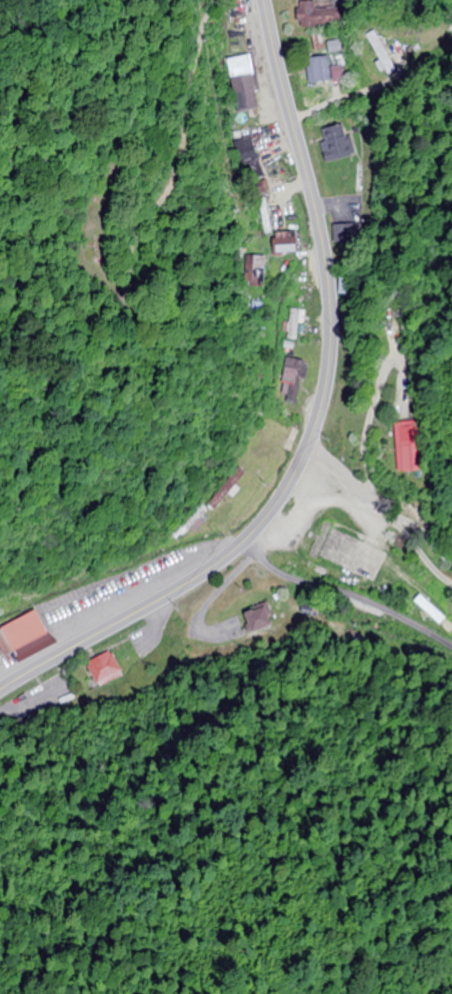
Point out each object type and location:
building: (313, 15)
building: (379, 54)
building: (318, 70)
building: (243, 90)
building: (334, 143)
building: (283, 244)
building: (348, 283)
building: (393, 322)
building: (291, 381)
road: (315, 421)
building: (405, 447)
building: (254, 453)
building: (224, 489)
road: (384, 508)
building: (188, 524)
road: (346, 595)
building: (22, 638)
building: (105, 670)

